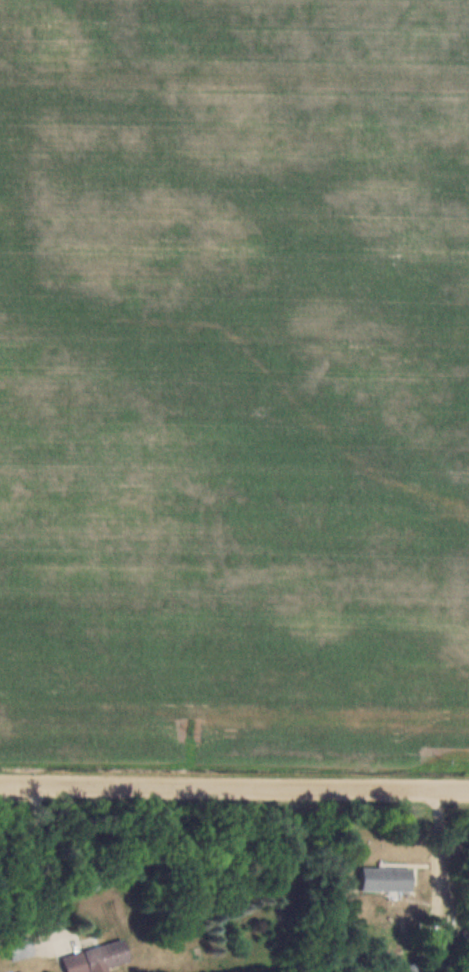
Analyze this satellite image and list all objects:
road: (234, 787)
building: (388, 879)
building: (23, 949)
building: (98, 958)

